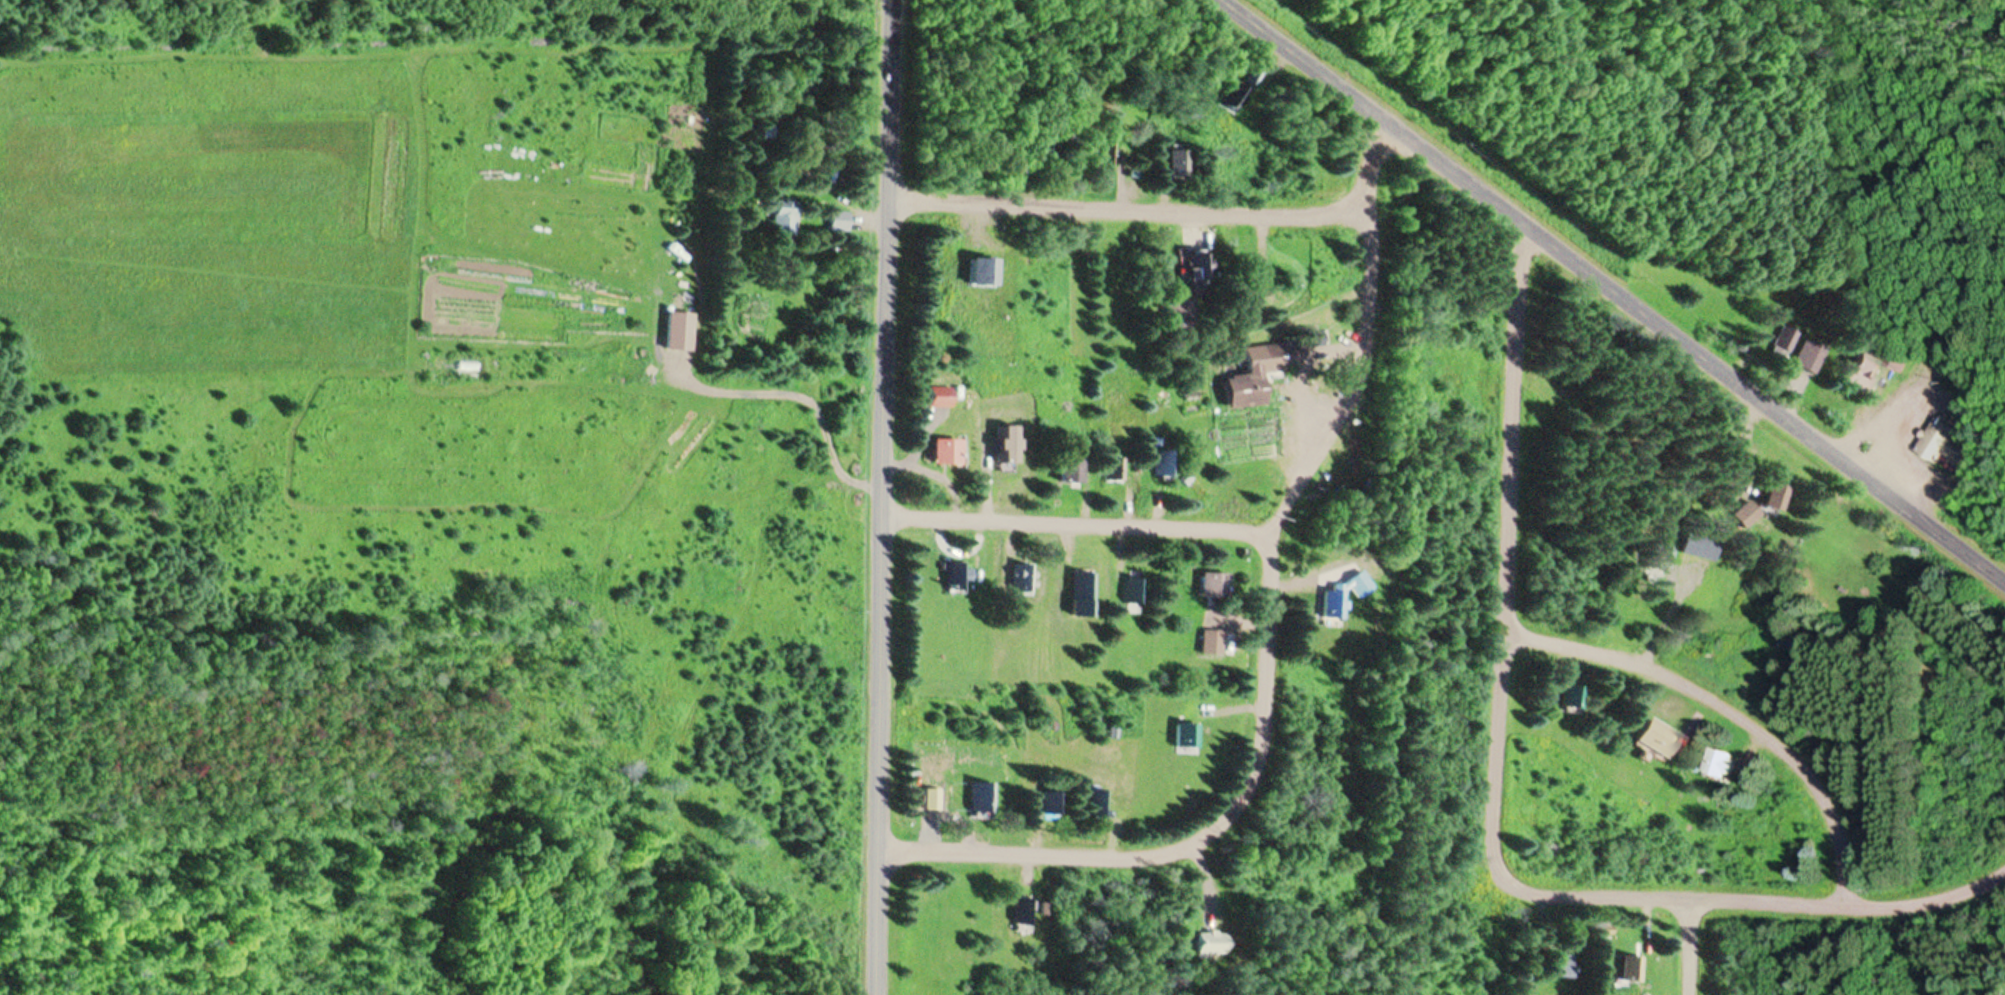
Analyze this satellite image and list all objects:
building: (1253, 78)
park: (1672, 91)
building: (1235, 98)
building: (1109, 152)
road: (1132, 210)
building: (783, 218)
building: (839, 220)
building: (1195, 269)
building: (980, 272)
road: (1614, 291)
building: (1181, 311)
building: (1783, 341)
building: (1808, 357)
building: (1860, 373)
building: (1252, 376)
building: (1943, 443)
building: (1008, 446)
building: (945, 452)
building: (1070, 471)
building: (1113, 471)
road: (887, 497)
building: (1770, 499)
building: (1744, 515)
road: (1080, 527)
building: (1697, 546)
building: (1655, 559)
building: (960, 578)
building: (1028, 580)
building: (1214, 587)
building: (1083, 589)
building: (1138, 592)
building: (1334, 606)
road: (1271, 642)
building: (1571, 697)
road: (1729, 715)
building: (1188, 737)
building: (1654, 738)
building: (1716, 764)
building: (983, 796)
building: (1104, 803)
building: (1055, 805)
road: (1500, 808)
building: (1027, 911)
building: (1211, 942)
road: (1691, 948)
building: (1560, 965)
building: (1631, 970)

